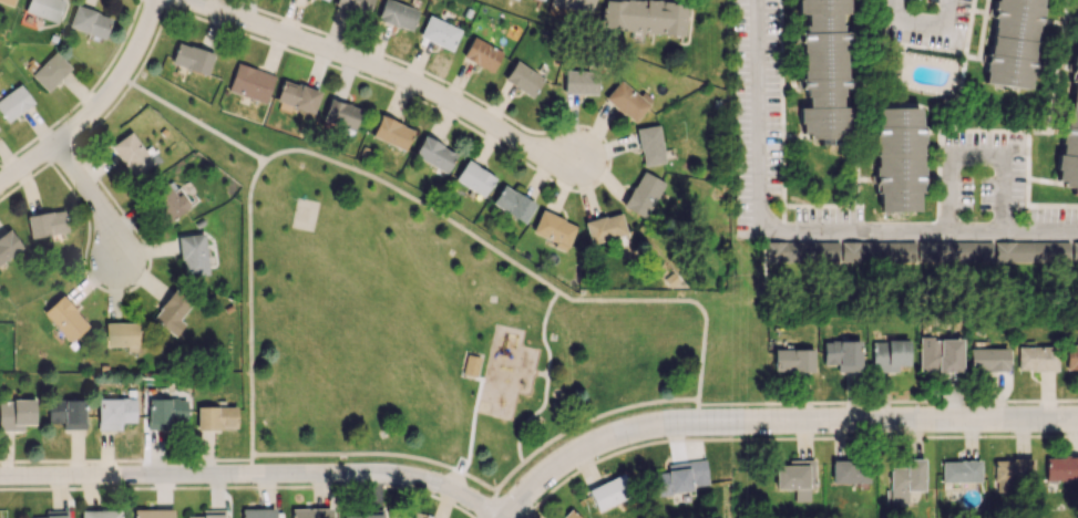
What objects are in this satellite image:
building: (325, 0)
building: (542, 0)
building: (7, 1)
building: (355, 6)
building: (573, 6)
building: (44, 8)
building: (397, 14)
building: (643, 17)
parking lot: (927, 20)
building: (89, 21)
road: (920, 21)
building: (439, 32)
building: (1013, 43)
building: (481, 53)
building: (191, 58)
road: (1057, 65)
building: (823, 66)
building: (50, 71)
road: (383, 72)
building: (522, 79)
building: (249, 82)
building: (579, 82)
building: (297, 96)
building: (626, 101)
building: (13, 103)
road: (93, 105)
building: (339, 114)
road: (192, 120)
building: (391, 132)
building: (1070, 135)
building: (649, 145)
street lamp: (259, 153)
road: (977, 153)
building: (131, 154)
building: (433, 154)
building: (896, 162)
parking lot: (982, 172)
building: (473, 178)
building: (643, 194)
road: (94, 199)
road: (417, 200)
building: (167, 201)
building: (512, 203)
park: (305, 216)
parking lot: (829, 218)
building: (47, 225)
building: (552, 228)
building: (604, 228)
road: (805, 228)
building: (8, 245)
building: (923, 251)
building: (192, 255)
road: (763, 257)
power tower: (741, 279)
street lamp: (240, 280)
road: (675, 299)
road: (721, 300)
road: (249, 307)
building: (171, 312)
park: (429, 312)
building: (64, 318)
road: (543, 332)
building: (121, 334)
road: (502, 343)
building: (841, 354)
building: (887, 354)
building: (937, 354)
building: (1070, 356)
building: (1035, 358)
building: (987, 359)
building: (792, 360)
building: (472, 366)
road: (544, 374)
road: (474, 396)
road: (751, 403)
building: (165, 412)
building: (65, 413)
building: (114, 413)
road: (604, 413)
building: (16, 414)
road: (801, 415)
building: (215, 417)
road: (528, 417)
road: (777, 425)
road: (788, 436)
road: (396, 454)
road: (125, 459)
road: (251, 465)
building: (1061, 468)
building: (959, 470)
building: (849, 472)
building: (1013, 473)
road: (253, 475)
parking lot: (453, 477)
building: (679, 477)
building: (795, 478)
building: (904, 480)
road: (240, 486)
building: (608, 491)
road: (449, 494)
road: (485, 503)
building: (257, 512)
building: (312, 512)
building: (99, 514)
building: (152, 514)
building: (569, 515)
building: (204, 516)
building: (361, 516)
building: (48, 517)

